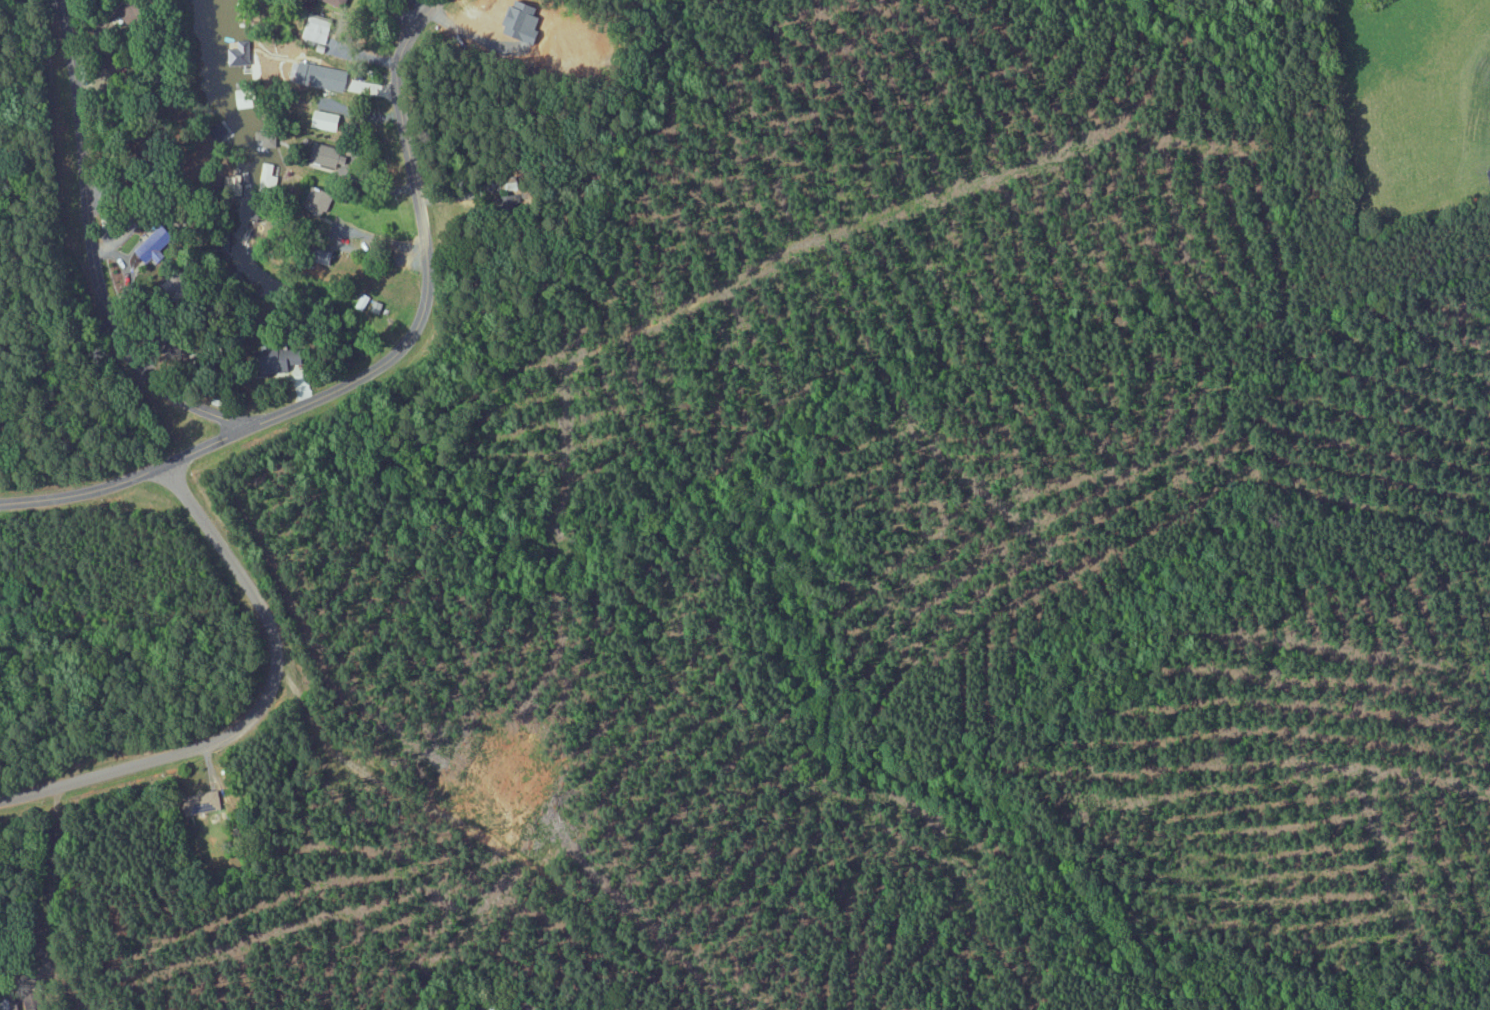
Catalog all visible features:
building: (340, 2)
building: (319, 30)
building: (239, 53)
building: (324, 77)
building: (248, 95)
building: (328, 120)
building: (331, 158)
building: (266, 179)
building: (319, 201)
building: (154, 245)
road: (426, 250)
road: (89, 253)
building: (171, 284)
building: (287, 358)
road: (131, 475)
road: (258, 707)
building: (207, 801)
building: (34, 1001)

